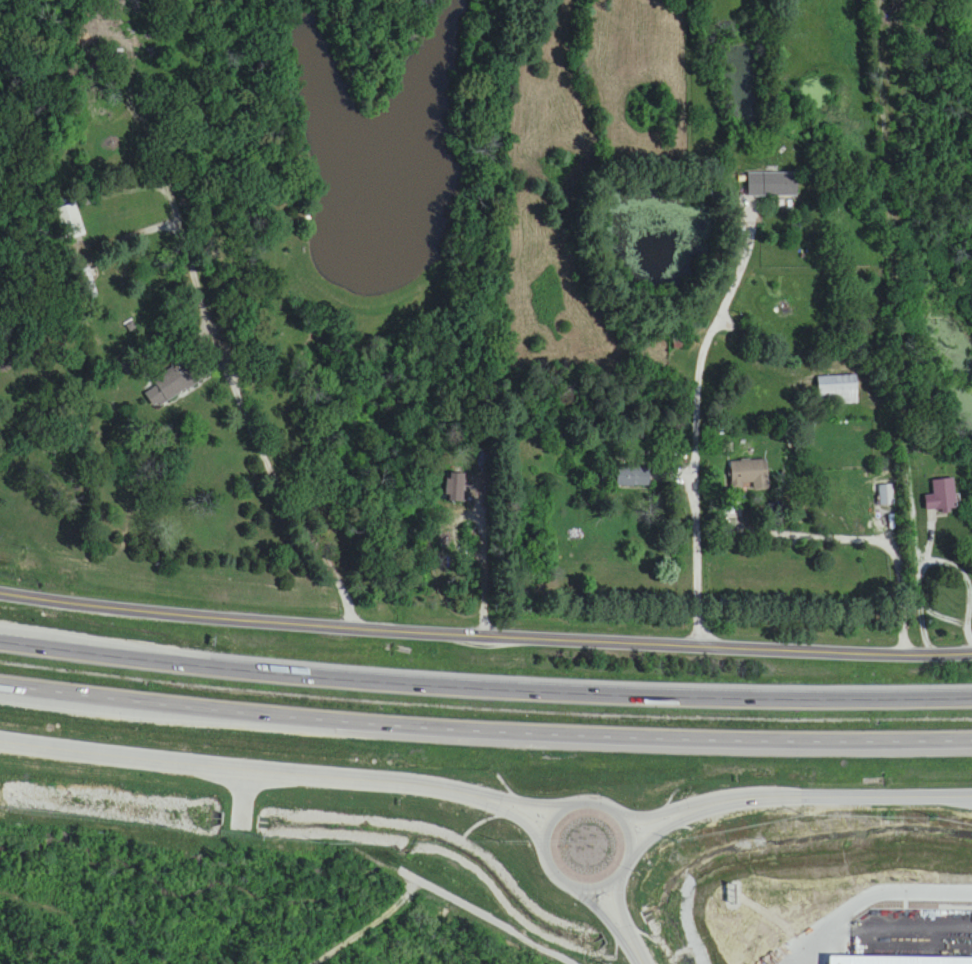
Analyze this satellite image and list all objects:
building: (117, 57)
building: (771, 185)
building: (70, 223)
road: (228, 368)
building: (177, 384)
building: (837, 392)
road: (695, 437)
building: (749, 473)
building: (633, 478)
building: (454, 489)
building: (887, 496)
road: (878, 531)
road: (482, 555)
road: (951, 571)
road: (484, 624)
road: (484, 686)
road: (484, 733)
road: (247, 765)
road: (828, 797)
road: (530, 804)
road: (652, 817)
road: (522, 819)
road: (656, 833)
road: (630, 842)
road: (434, 889)
road: (868, 896)
road: (621, 906)
road: (600, 908)
road: (920, 928)
road: (636, 951)

